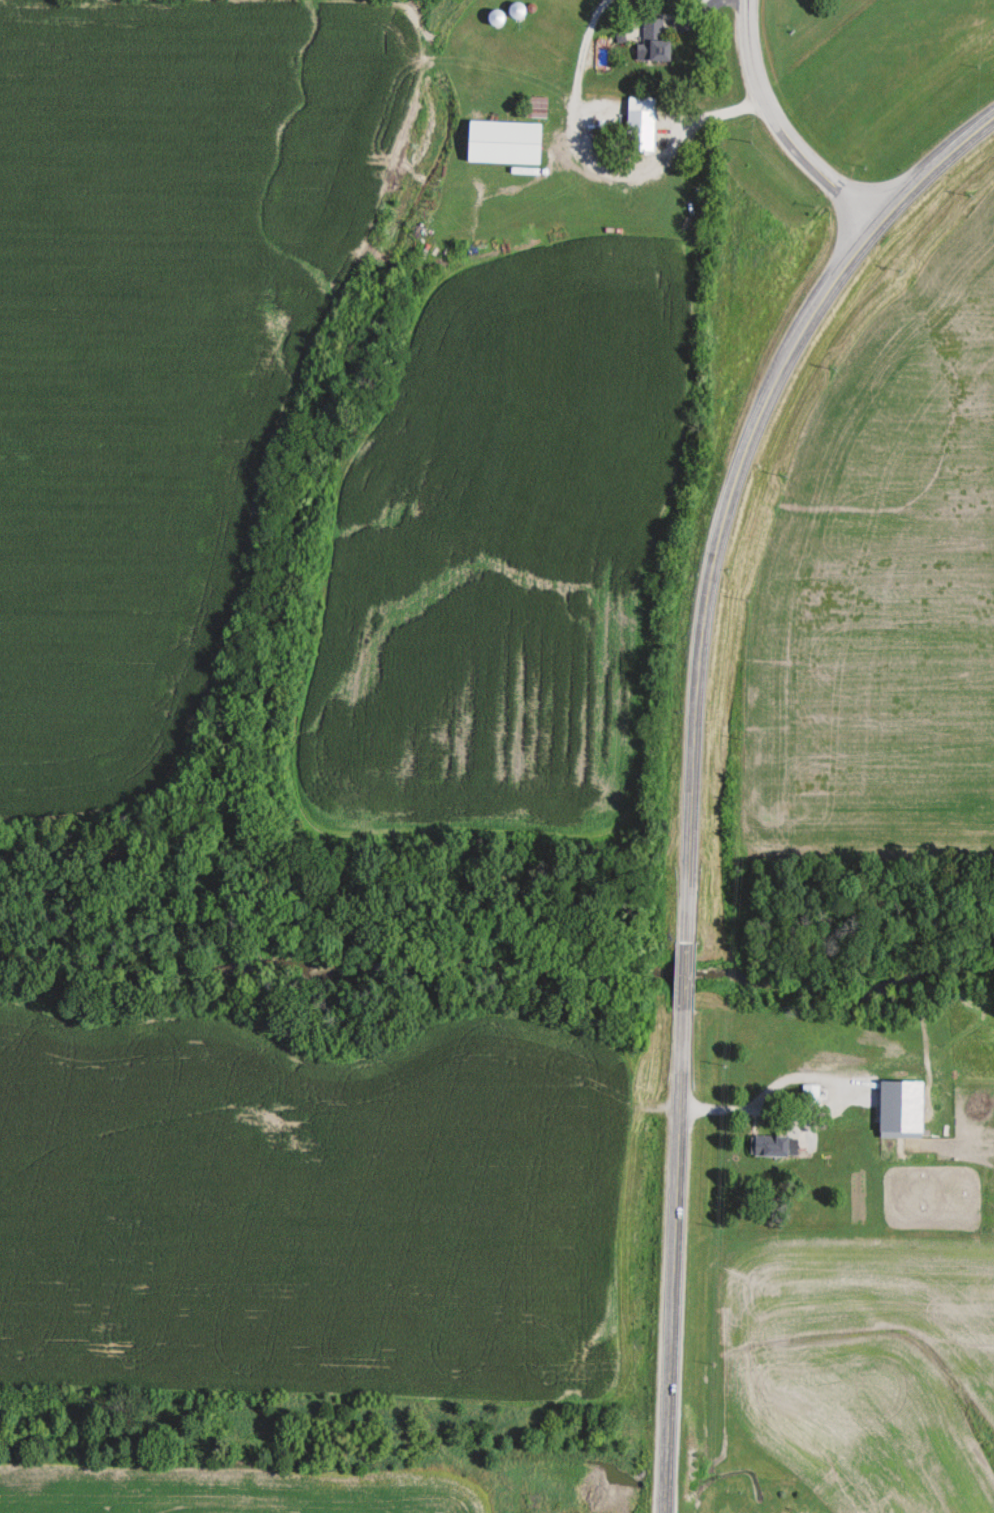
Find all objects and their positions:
building: (522, 11)
building: (656, 42)
building: (644, 123)
road: (783, 128)
building: (508, 142)
road: (597, 168)
road: (695, 767)
building: (812, 1092)
road: (746, 1114)
building: (775, 1146)

